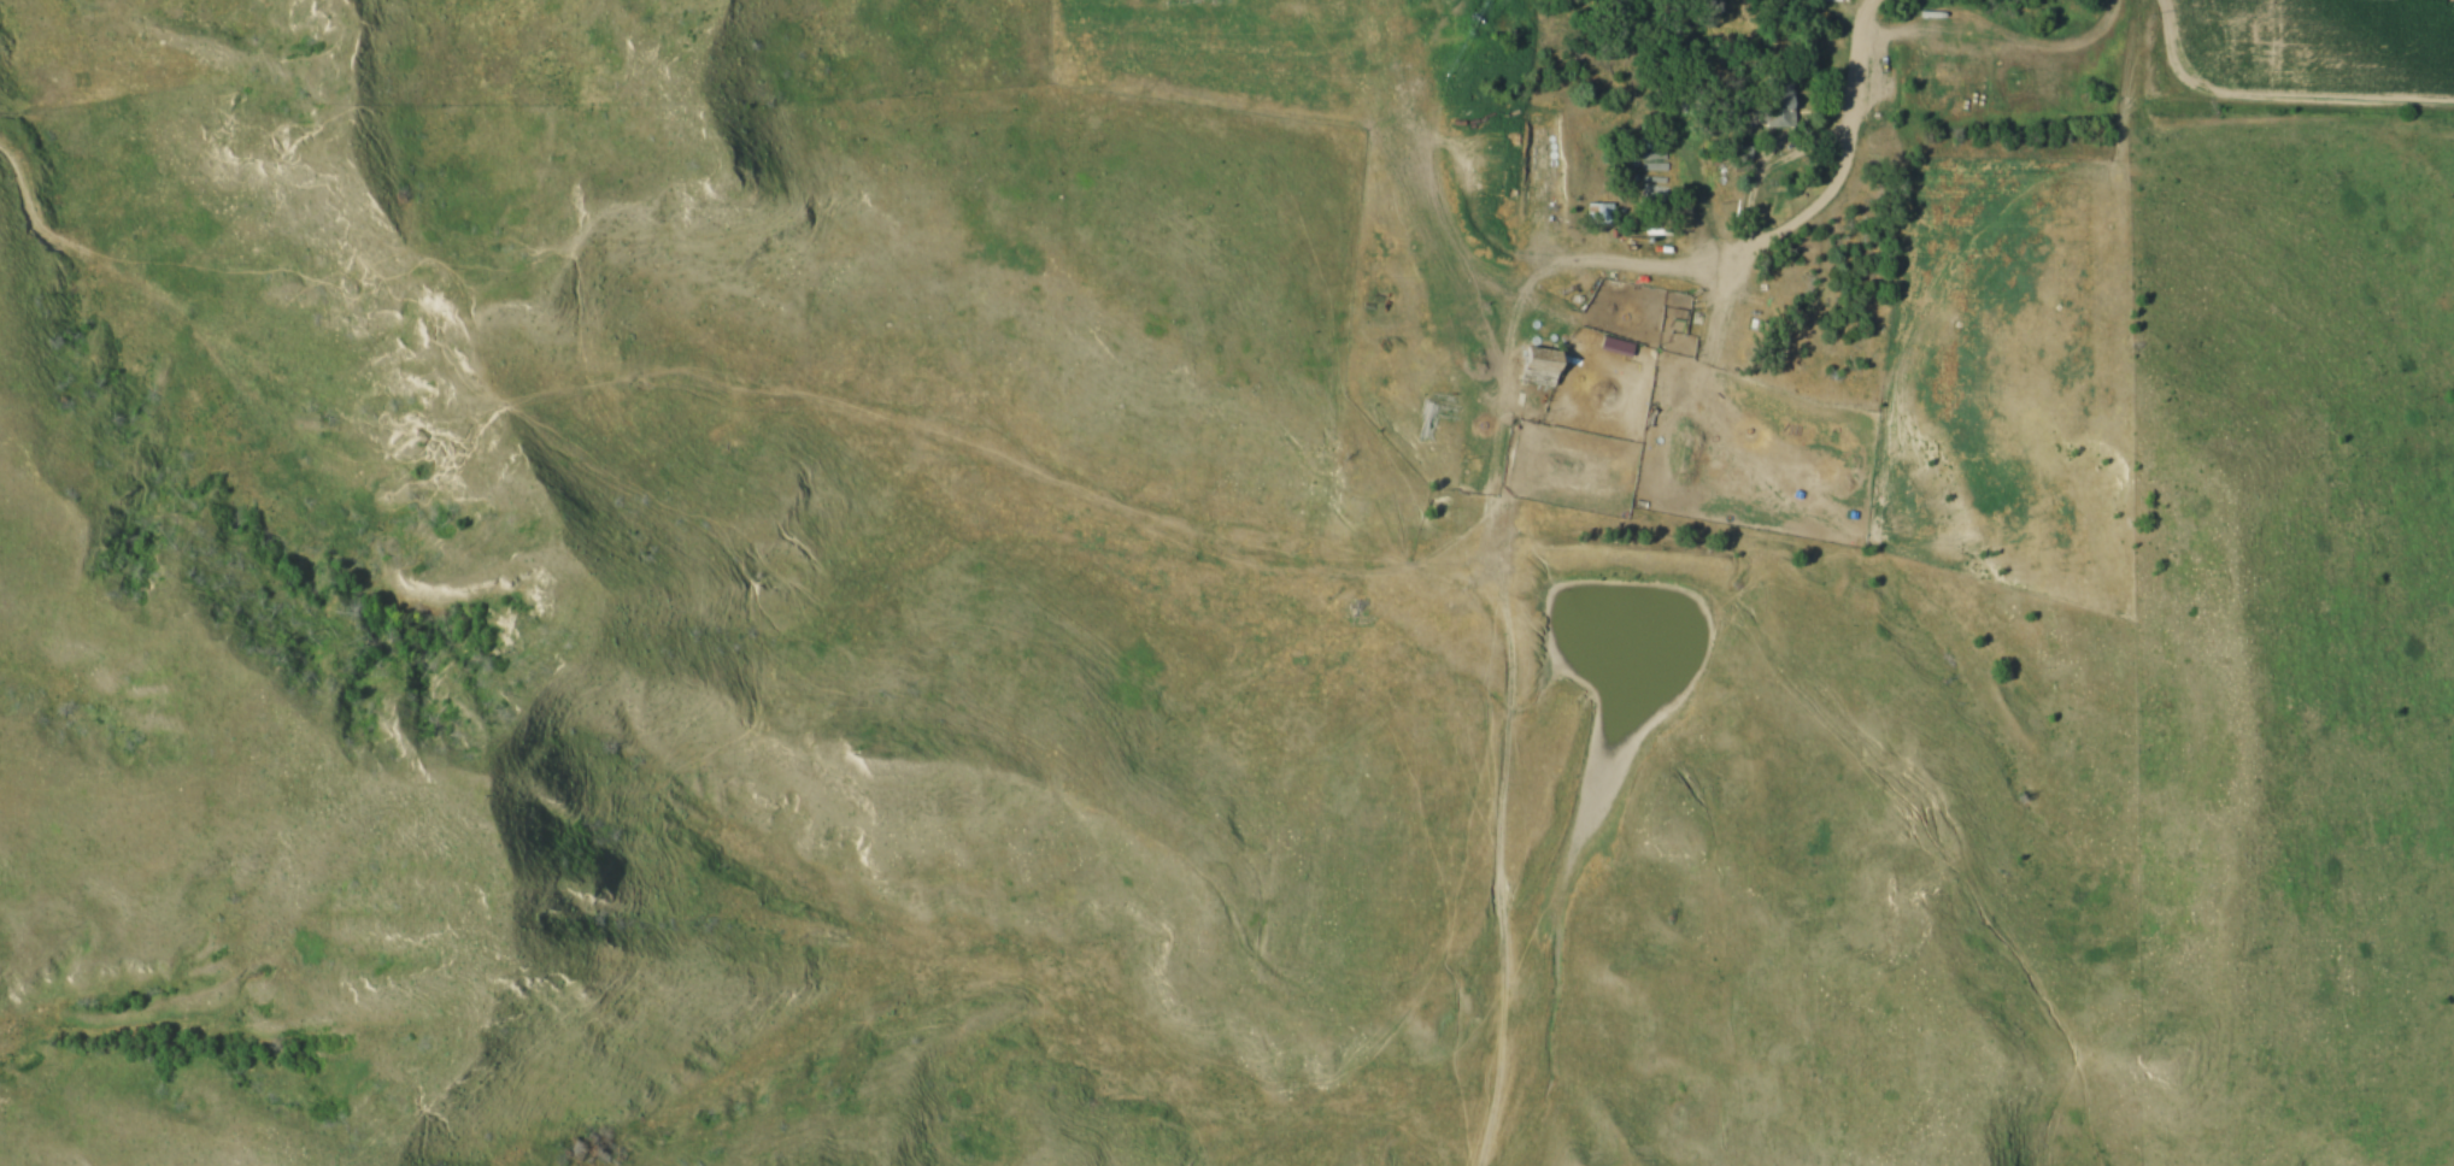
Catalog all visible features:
crop: (2318, 45)
building: (1773, 104)
building: (1734, 152)
road: (1431, 164)
road: (1808, 210)
building: (1597, 213)
building: (1534, 365)
road: (1510, 671)

